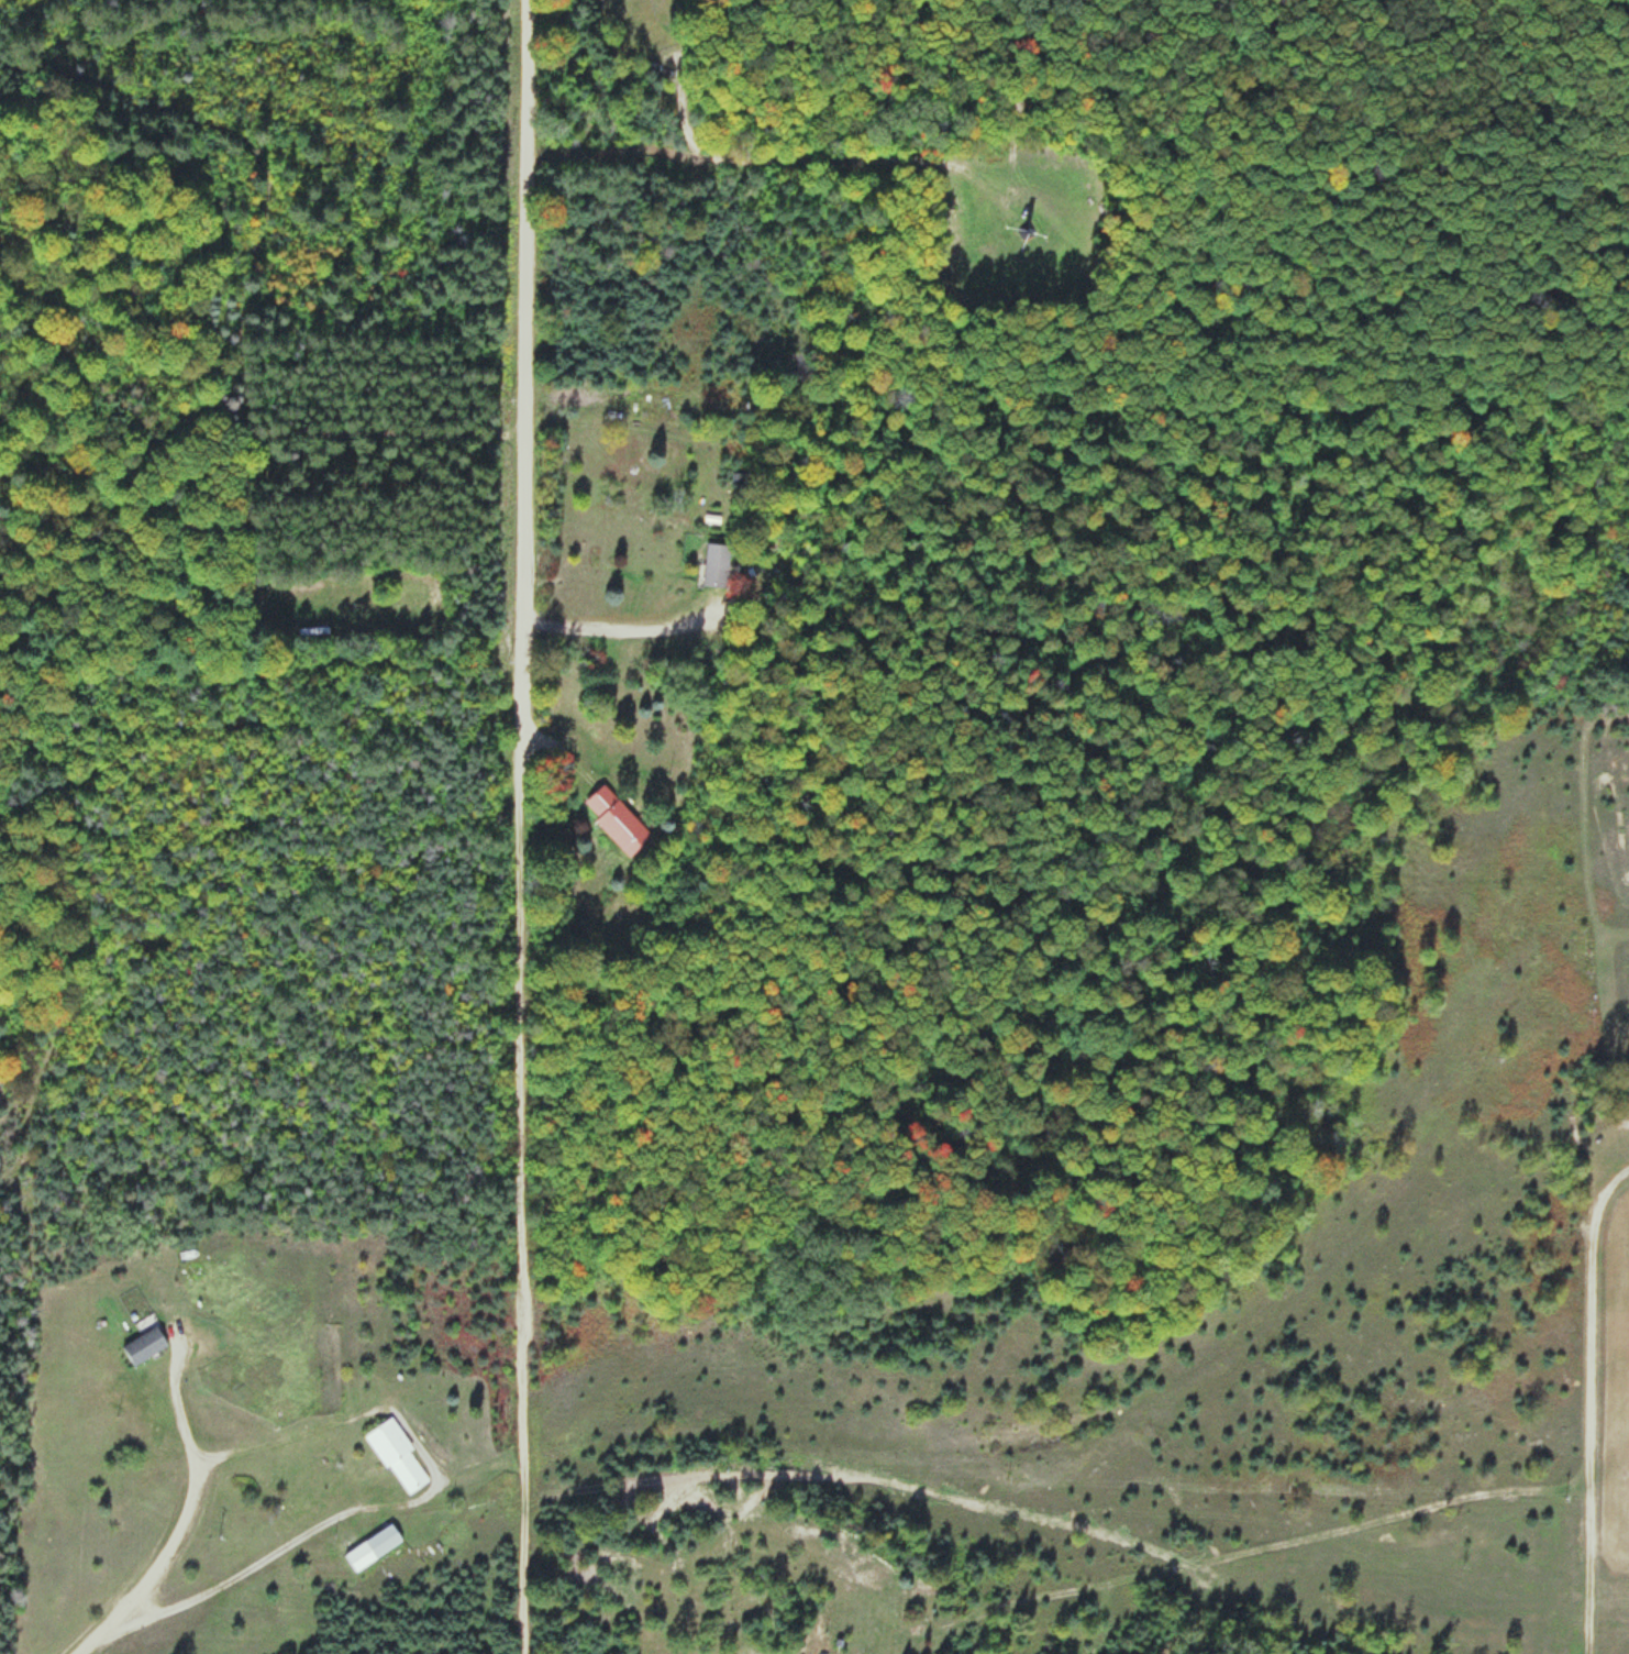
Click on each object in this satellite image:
building: (716, 565)
building: (617, 820)
road: (525, 826)
building: (144, 1345)
road: (1588, 1403)
building: (397, 1456)
road: (196, 1481)
building: (373, 1548)
road: (254, 1561)

